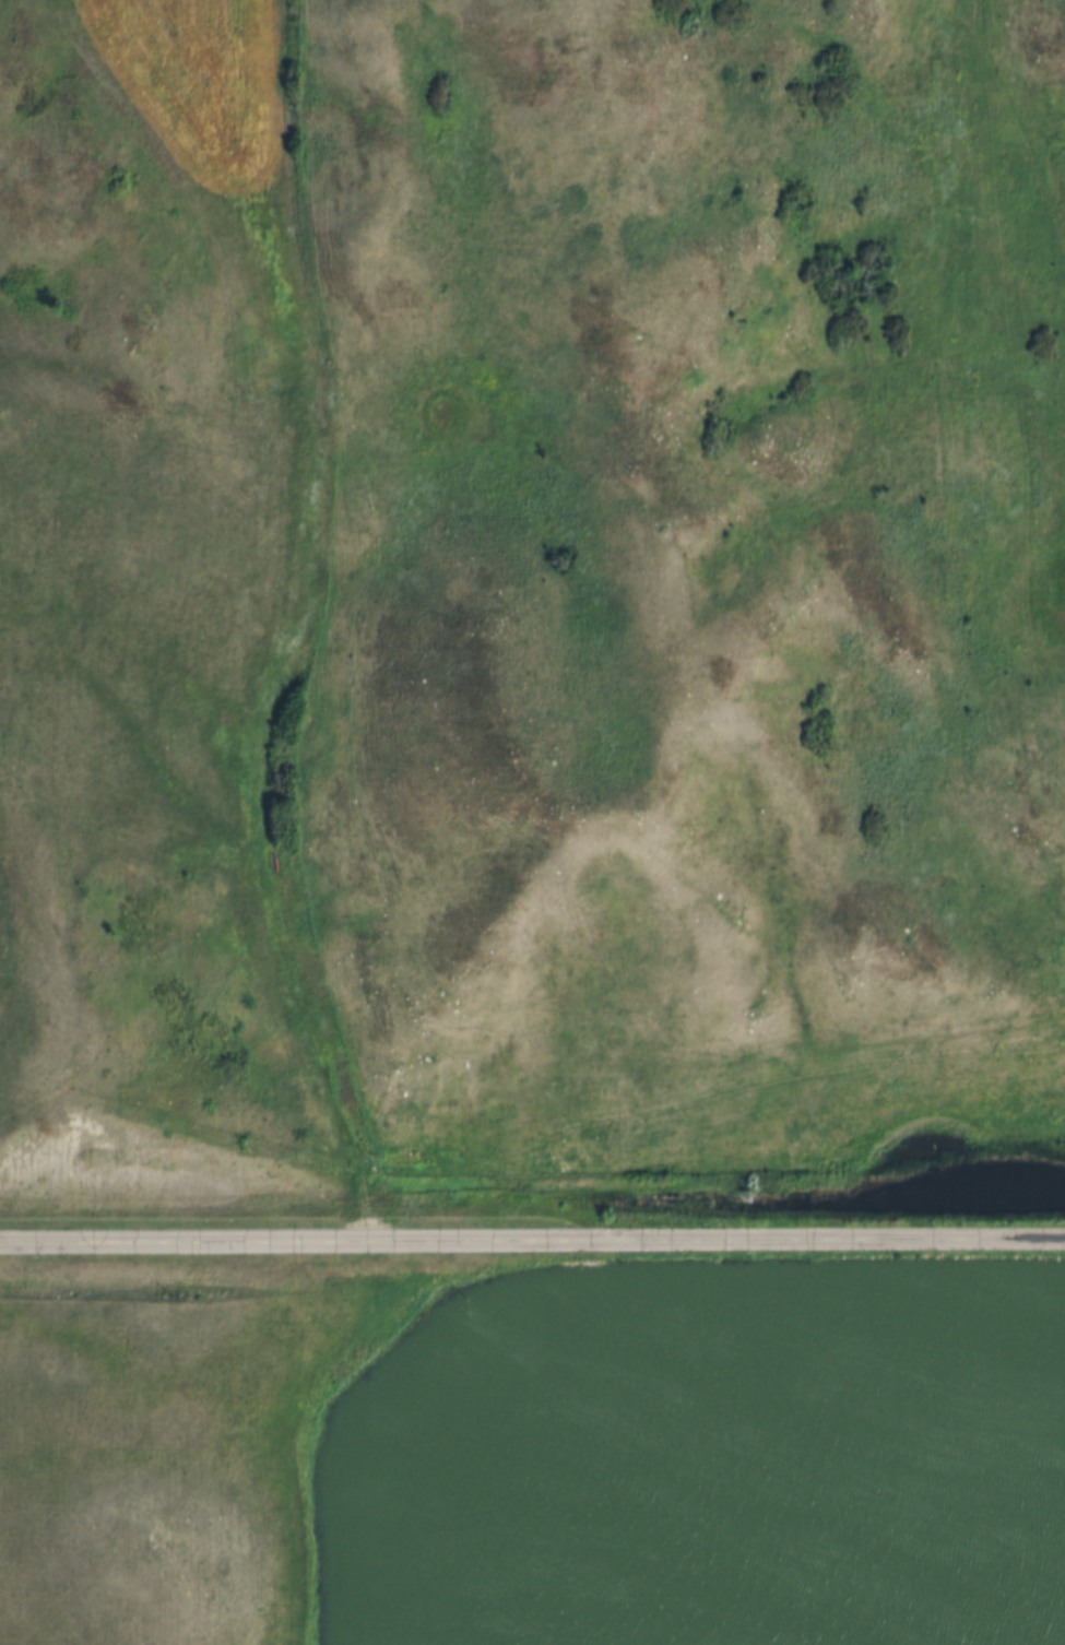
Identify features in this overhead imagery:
road: (532, 1235)

